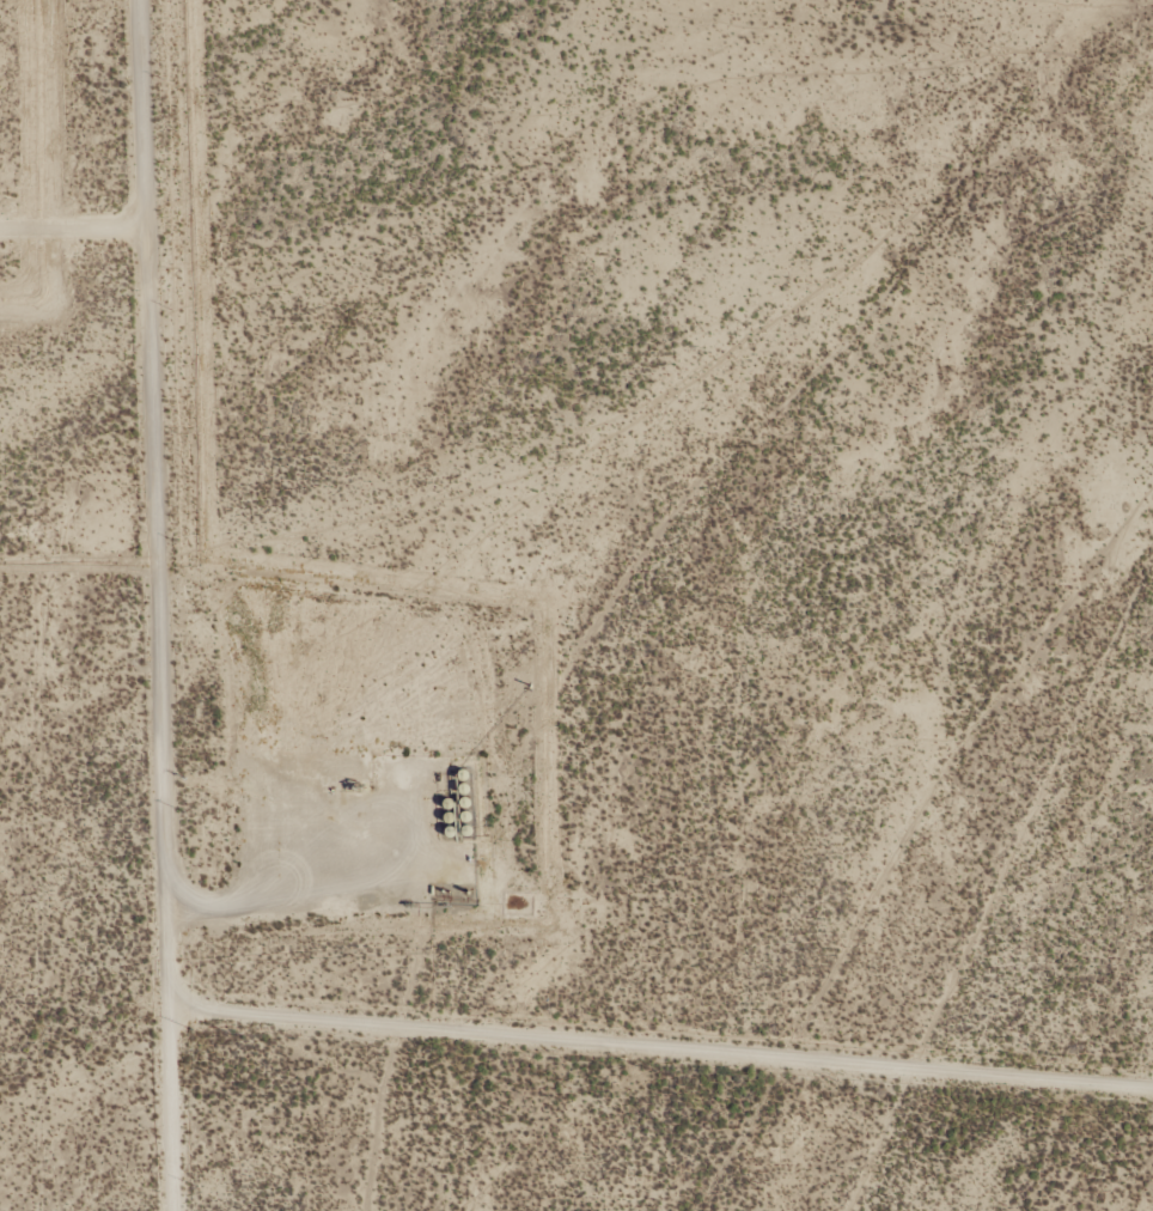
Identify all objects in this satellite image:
road: (620, 568)

